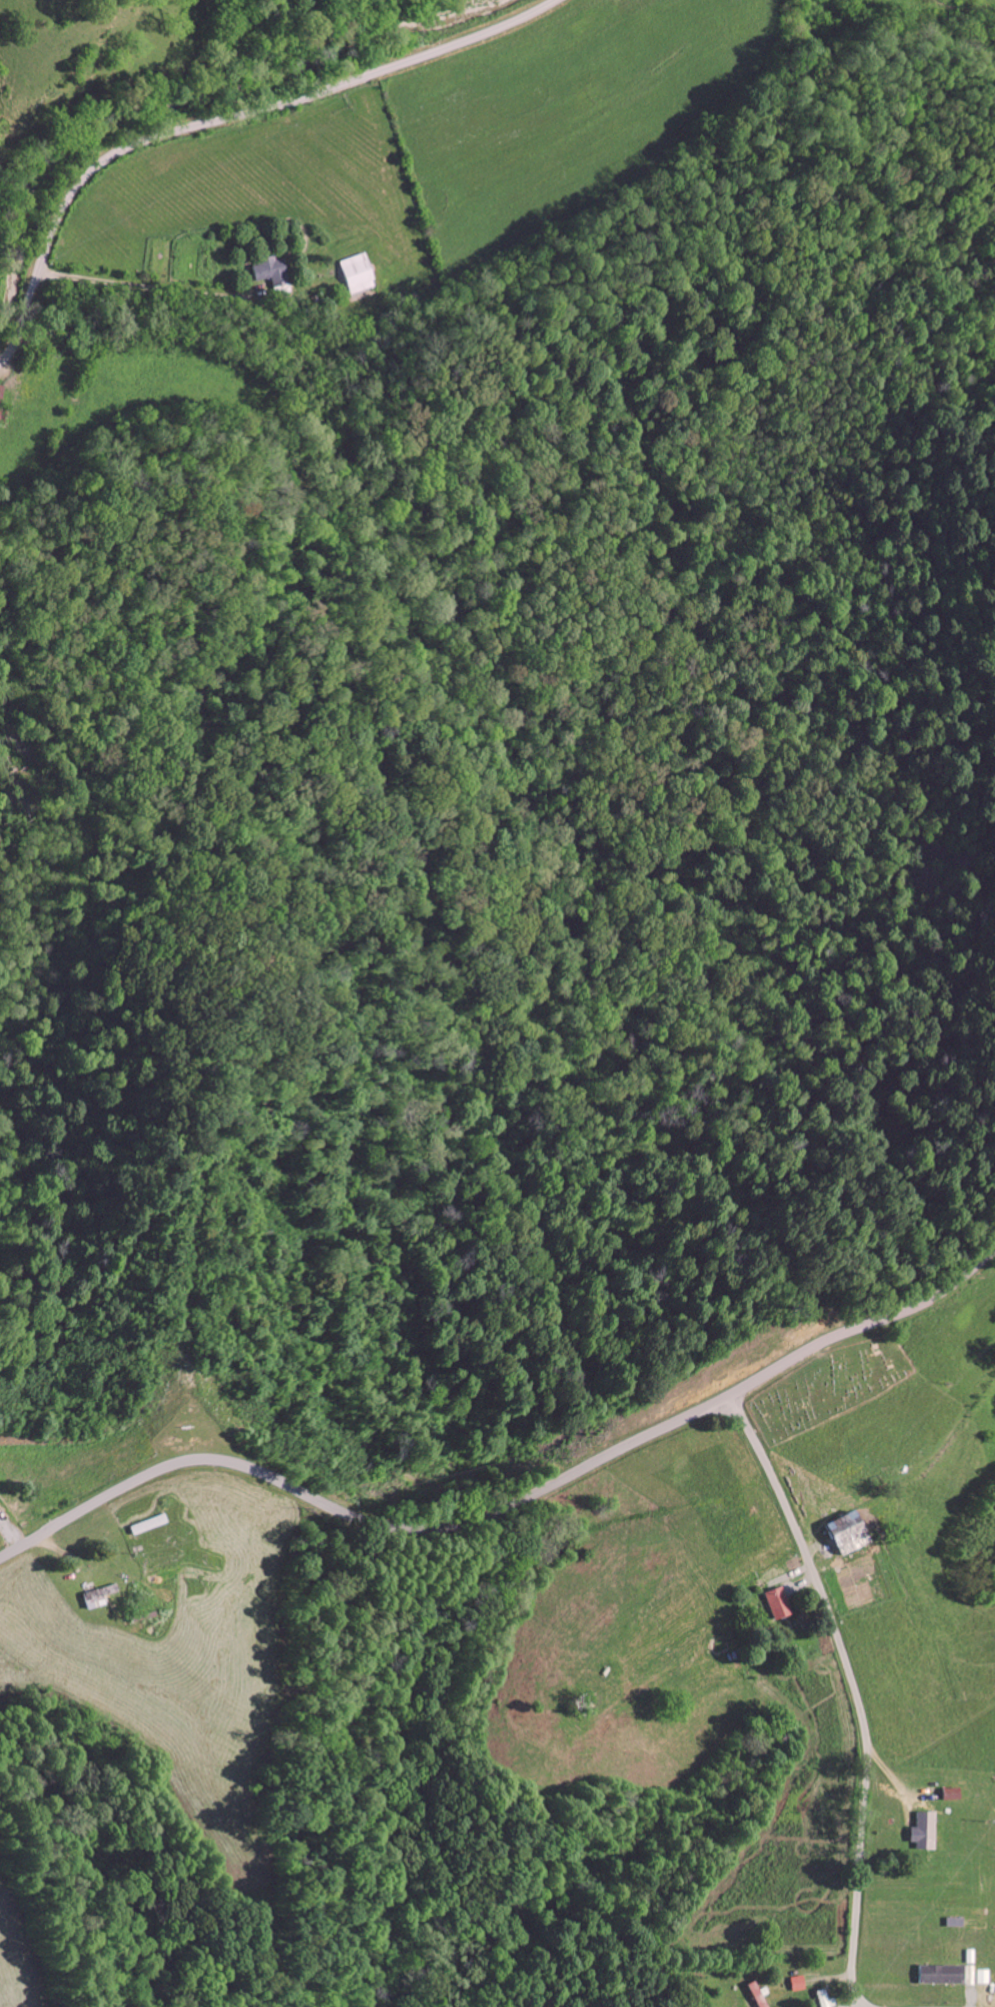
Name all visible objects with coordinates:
road: (222, 120)
building: (270, 272)
road: (242, 348)
park: (826, 1387)
road: (509, 1509)
building: (99, 1597)
building: (778, 1604)
road: (853, 1693)
building: (951, 1795)
building: (924, 1831)
building: (940, 1975)
building: (753, 1996)
road: (856, 2002)

